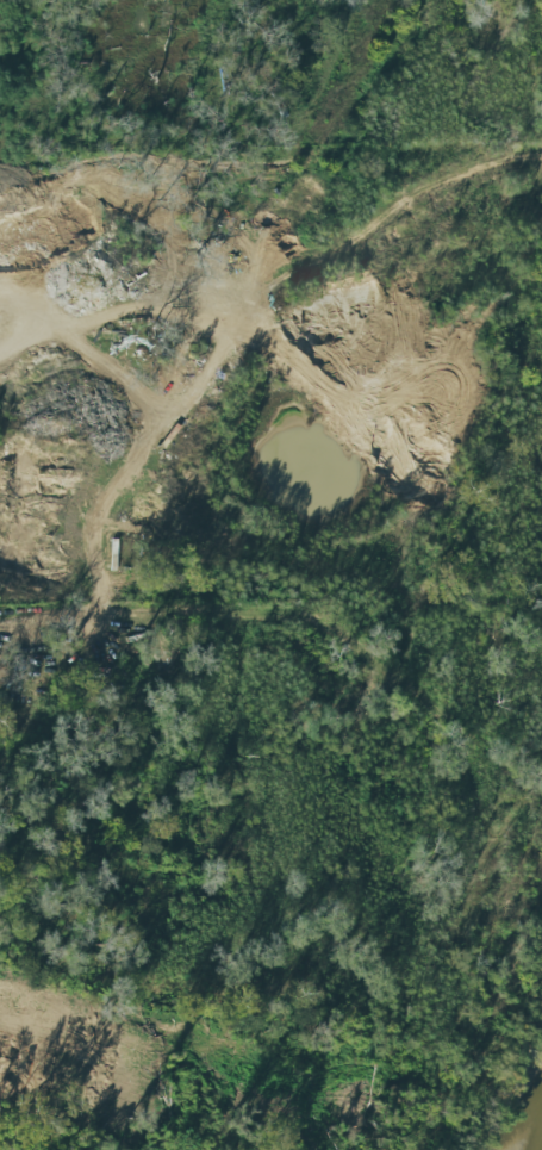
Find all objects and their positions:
road: (31, 335)

